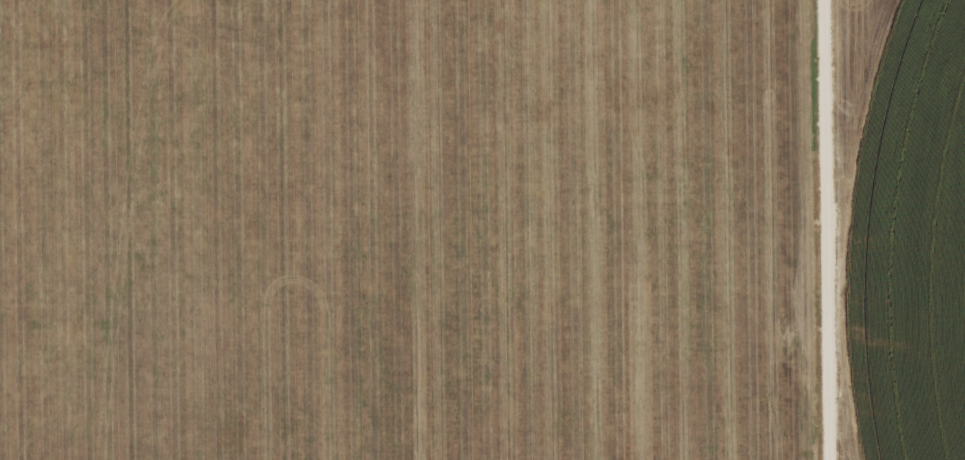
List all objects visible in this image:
road: (830, 230)

